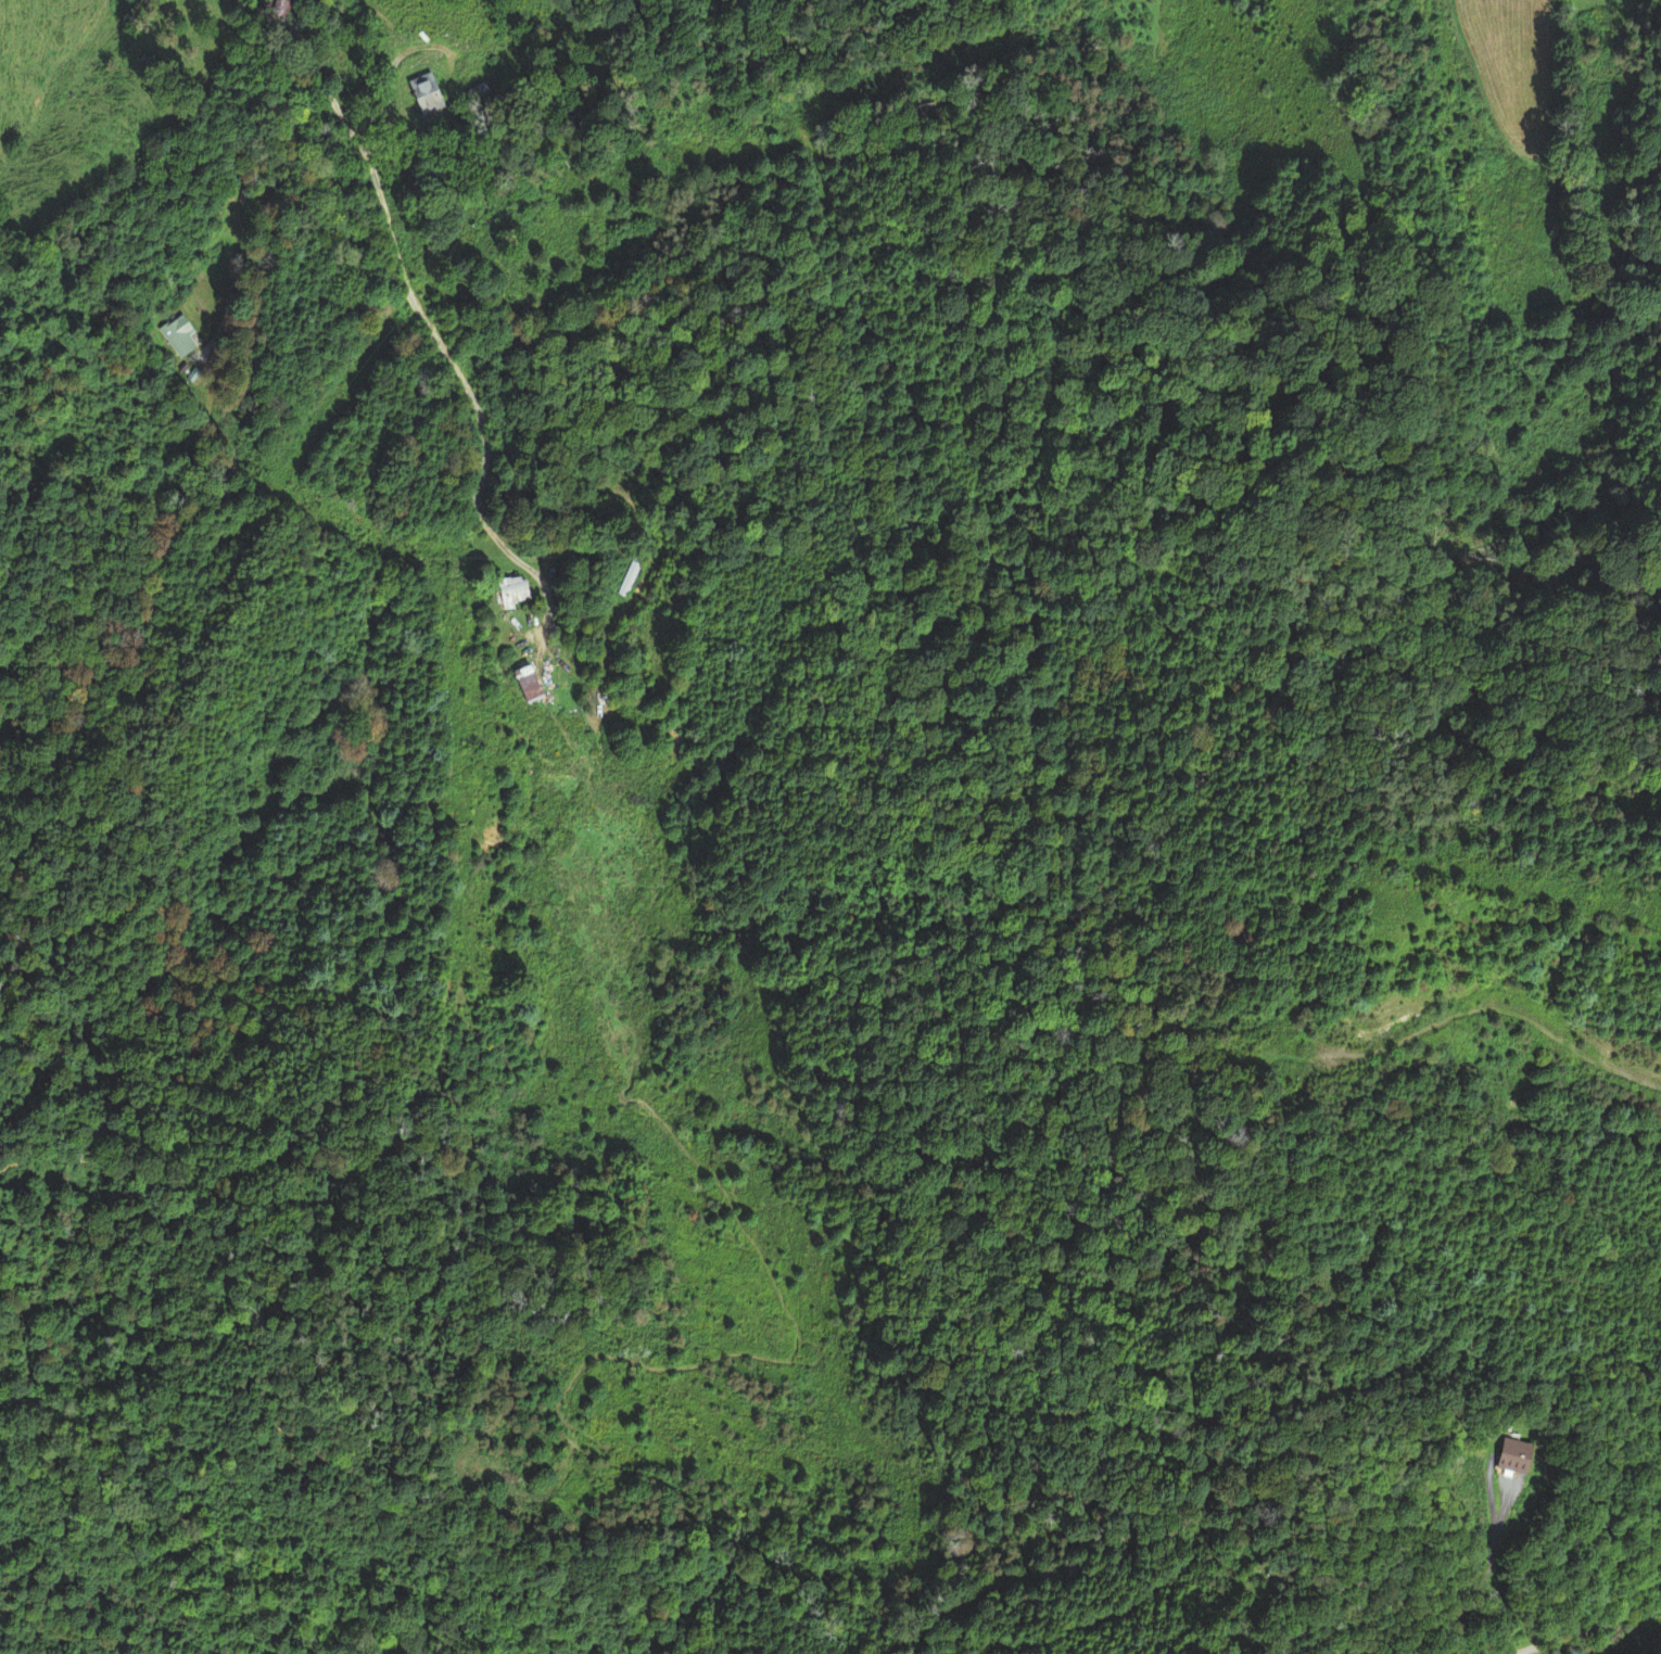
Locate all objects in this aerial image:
building: (271, 8)
building: (426, 91)
road: (271, 190)
road: (380, 203)
building: (176, 334)
building: (629, 572)
building: (512, 590)
road: (606, 645)
building: (527, 680)
building: (1514, 1453)
road: (1488, 1494)
road: (1483, 1570)
road: (1583, 1629)

